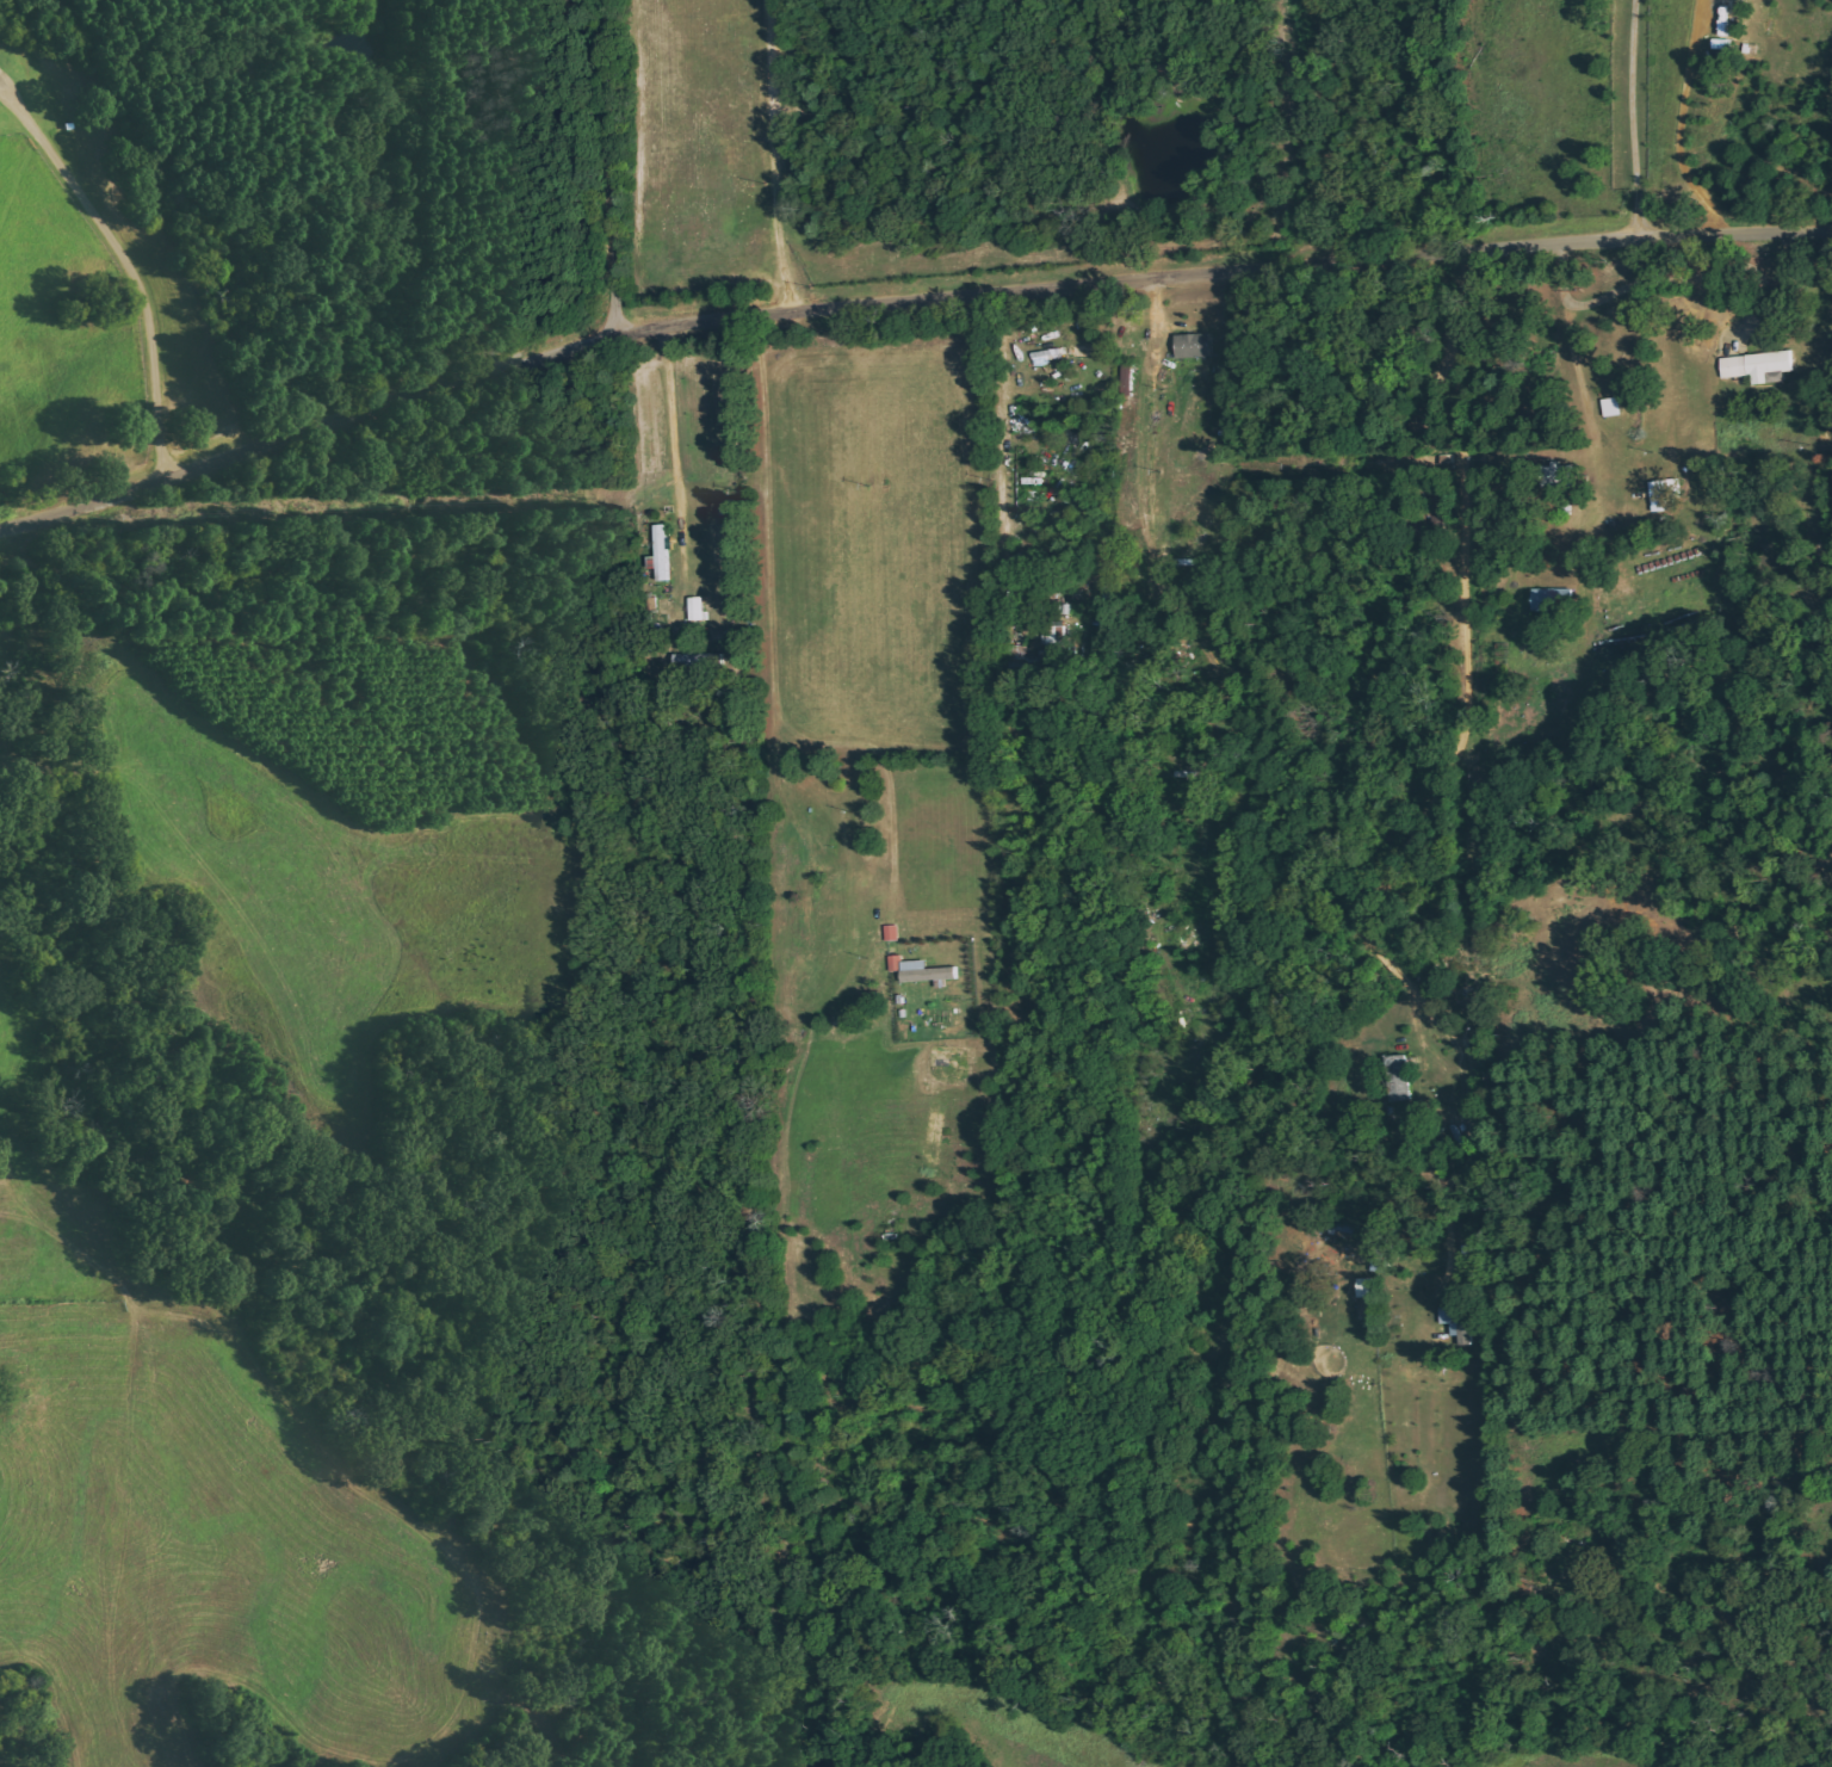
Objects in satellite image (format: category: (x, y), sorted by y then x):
road: (590, 167)
road: (900, 301)
building: (1196, 345)
building: (1758, 365)
building: (1614, 406)
building: (1667, 494)
building: (662, 551)
building: (1554, 598)
building: (698, 608)
building: (1064, 610)
building: (922, 969)
building: (1400, 1076)

